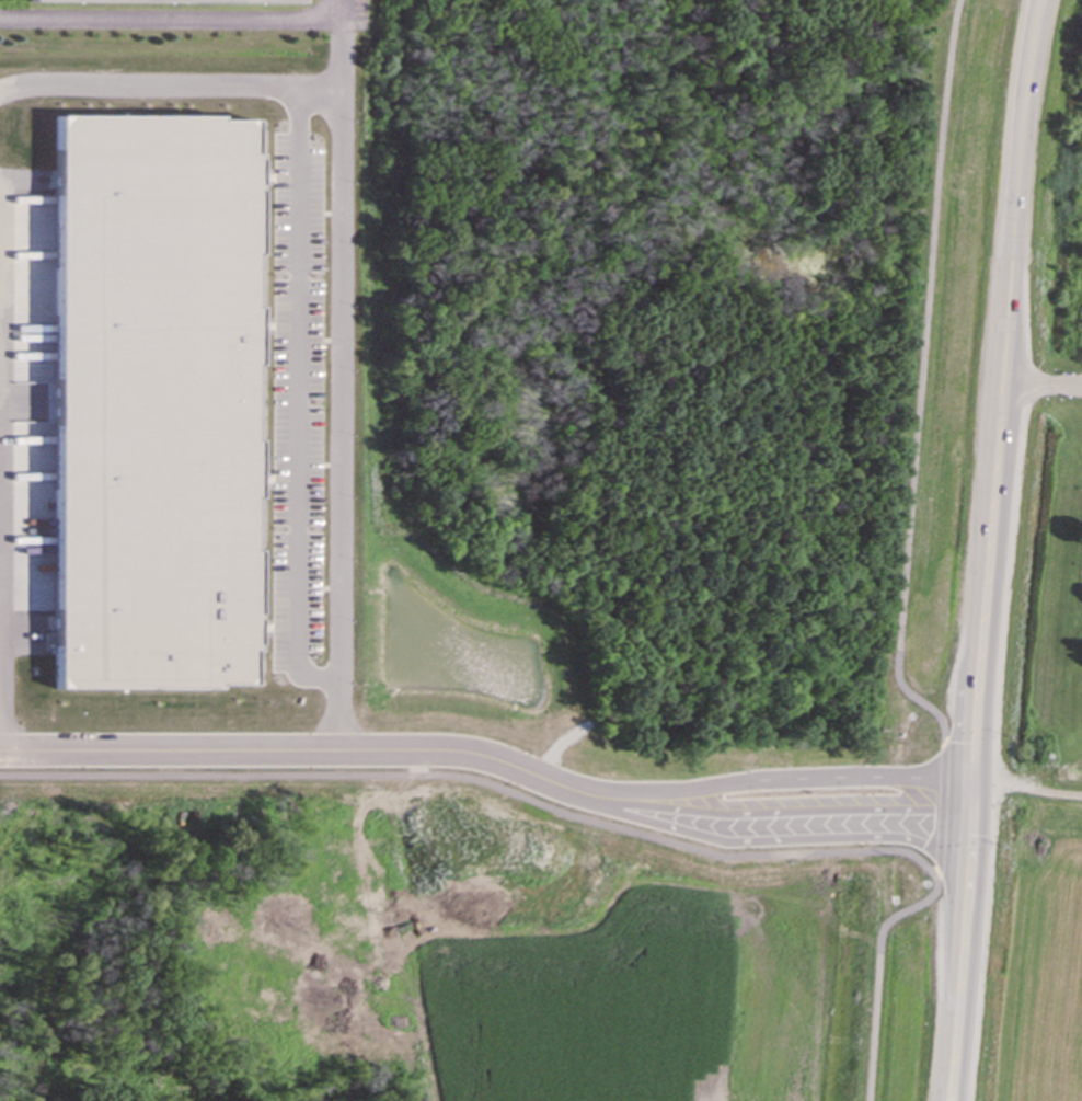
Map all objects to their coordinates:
building: (174, 3)
road: (179, 20)
road: (147, 85)
road: (318, 89)
road: (338, 348)
road: (922, 381)
road: (1040, 389)
road: (295, 401)
building: (149, 402)
road: (992, 491)
park: (1047, 515)
road: (337, 715)
road: (487, 759)
road: (476, 780)
road: (1026, 791)
road: (941, 807)
crop: (1024, 951)
crop: (621, 965)
road: (876, 971)
road: (946, 1042)
road: (951, 1042)

